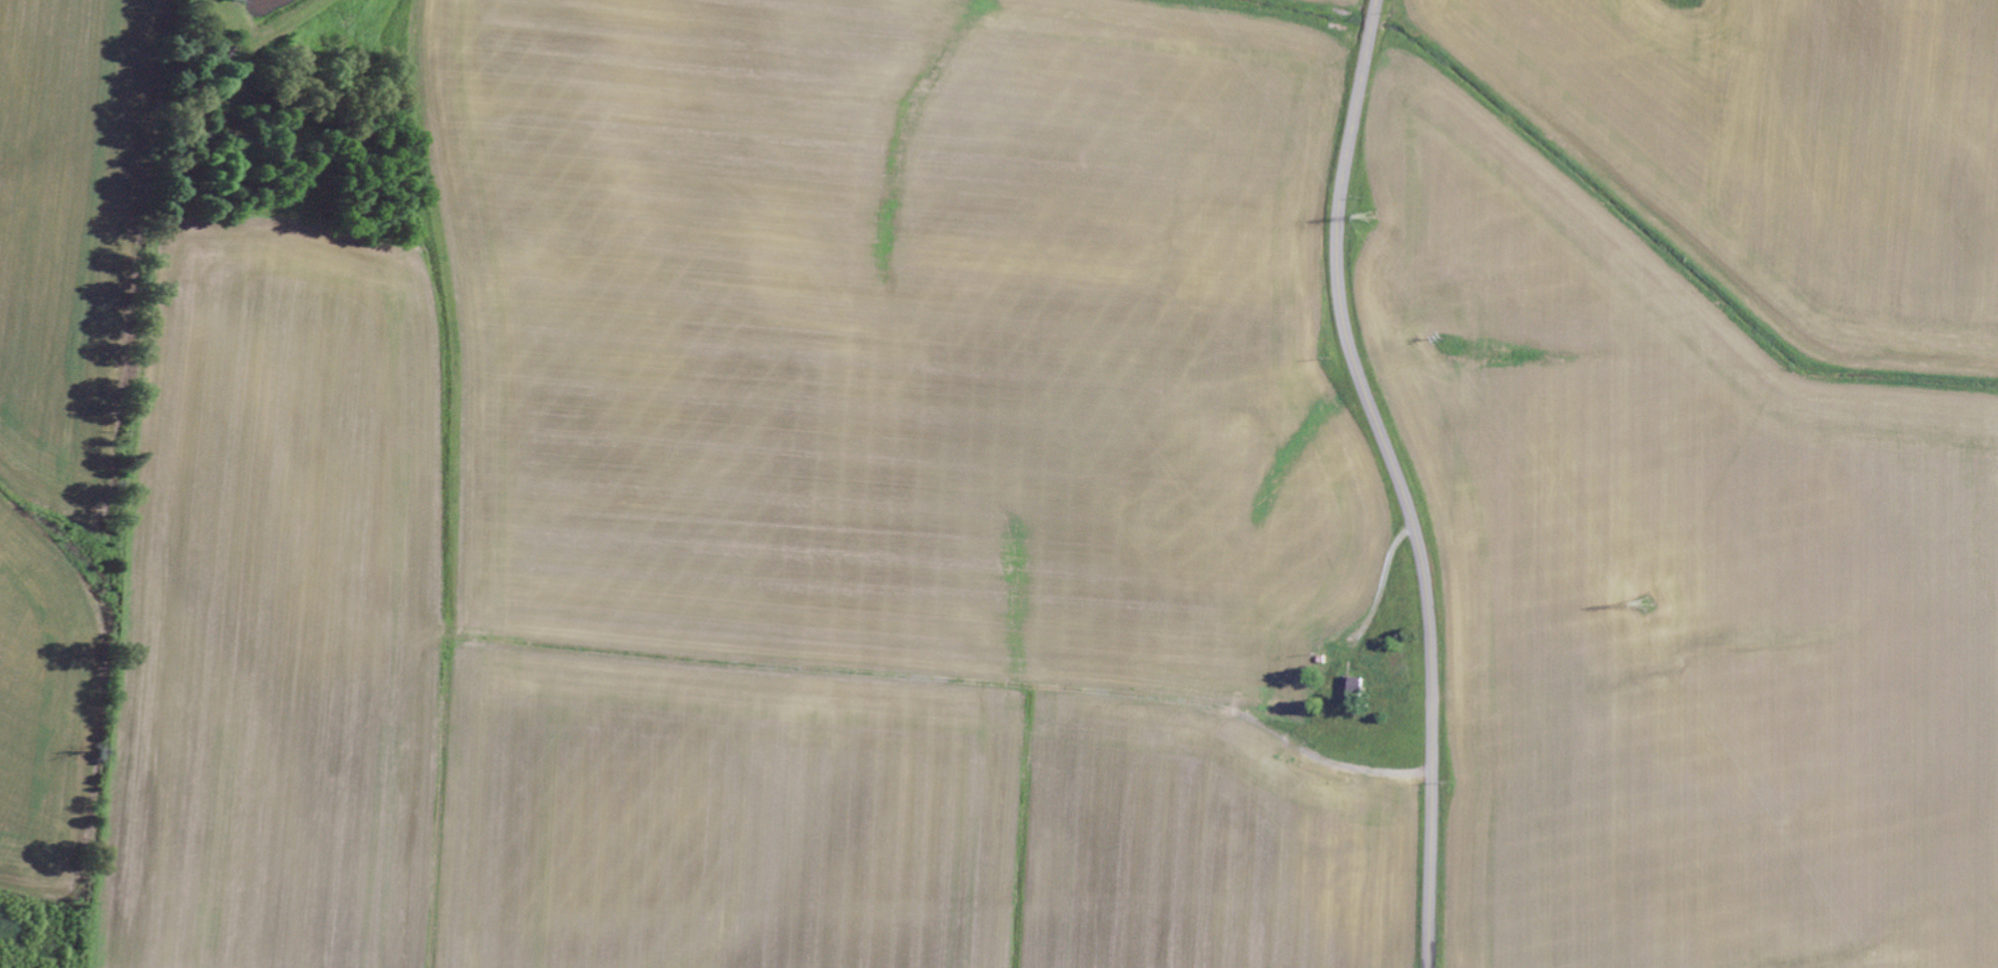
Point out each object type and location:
road: (1400, 479)
building: (1357, 688)

